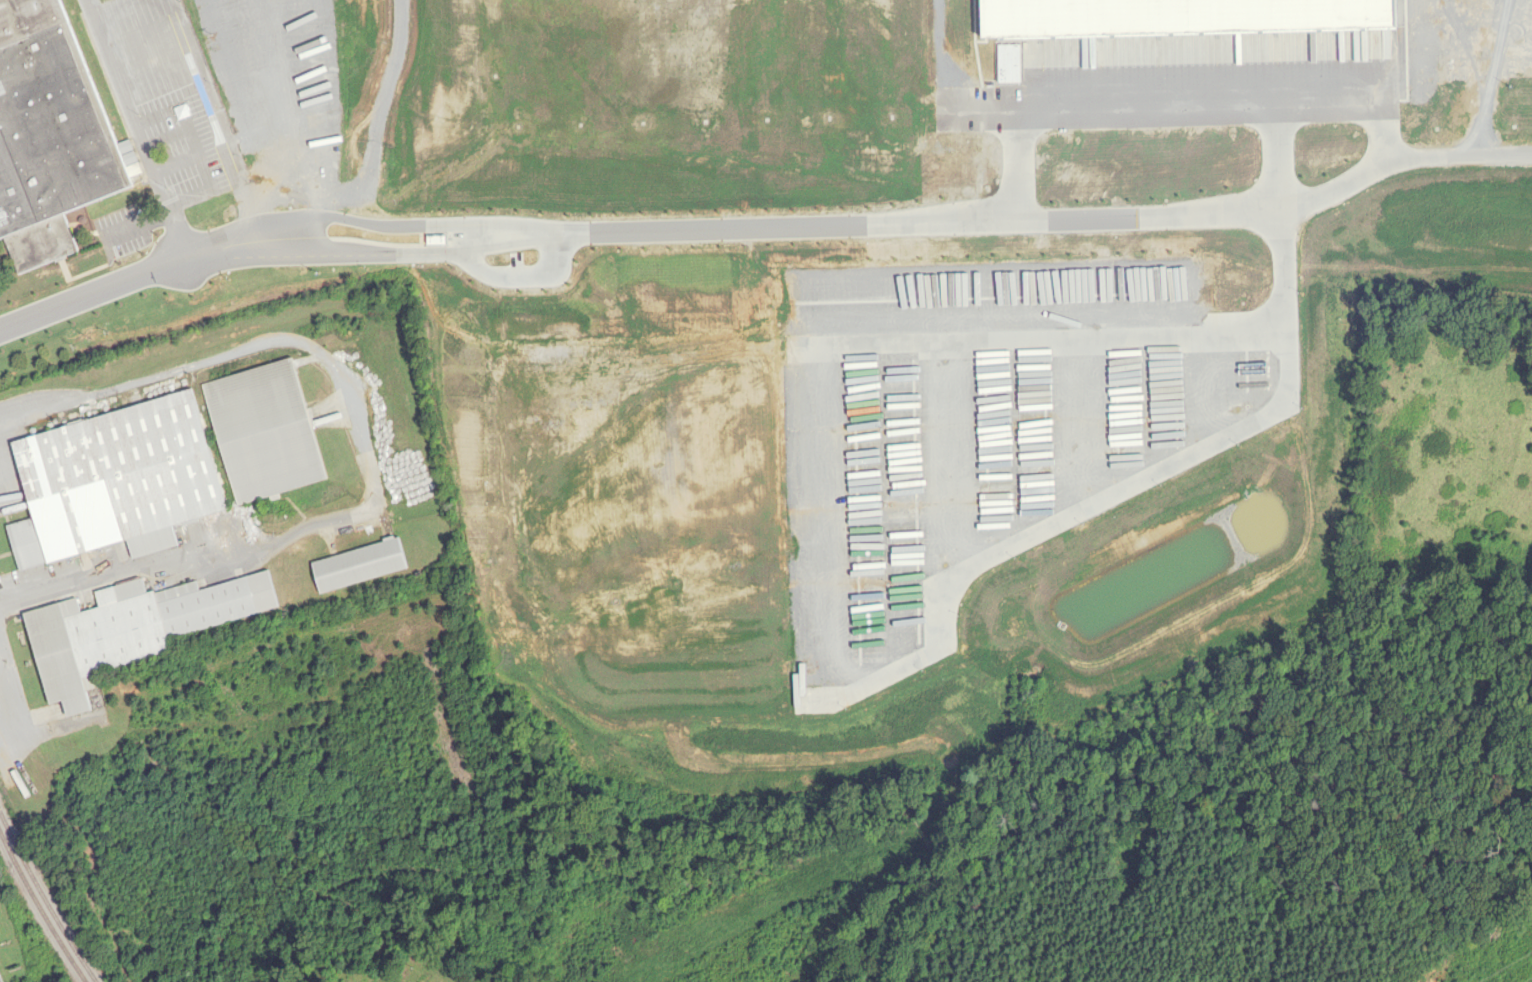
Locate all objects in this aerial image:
road: (125, 14)
road: (271, 62)
road: (230, 67)
road: (205, 88)
road: (1178, 99)
road: (379, 117)
road: (289, 125)
road: (133, 128)
building: (49, 136)
road: (221, 179)
road: (319, 186)
road: (1030, 222)
road: (417, 224)
road: (416, 250)
road: (155, 268)
road: (519, 276)
road: (1039, 339)
road: (1214, 387)
road: (1143, 405)
road: (1087, 421)
building: (267, 430)
road: (1016, 439)
road: (365, 453)
road: (960, 454)
road: (1151, 471)
building: (117, 480)
road: (887, 509)
road: (823, 524)
building: (358, 565)
building: (129, 629)
road: (1, 657)
road: (13, 696)
railway: (43, 900)
railway: (37, 912)

